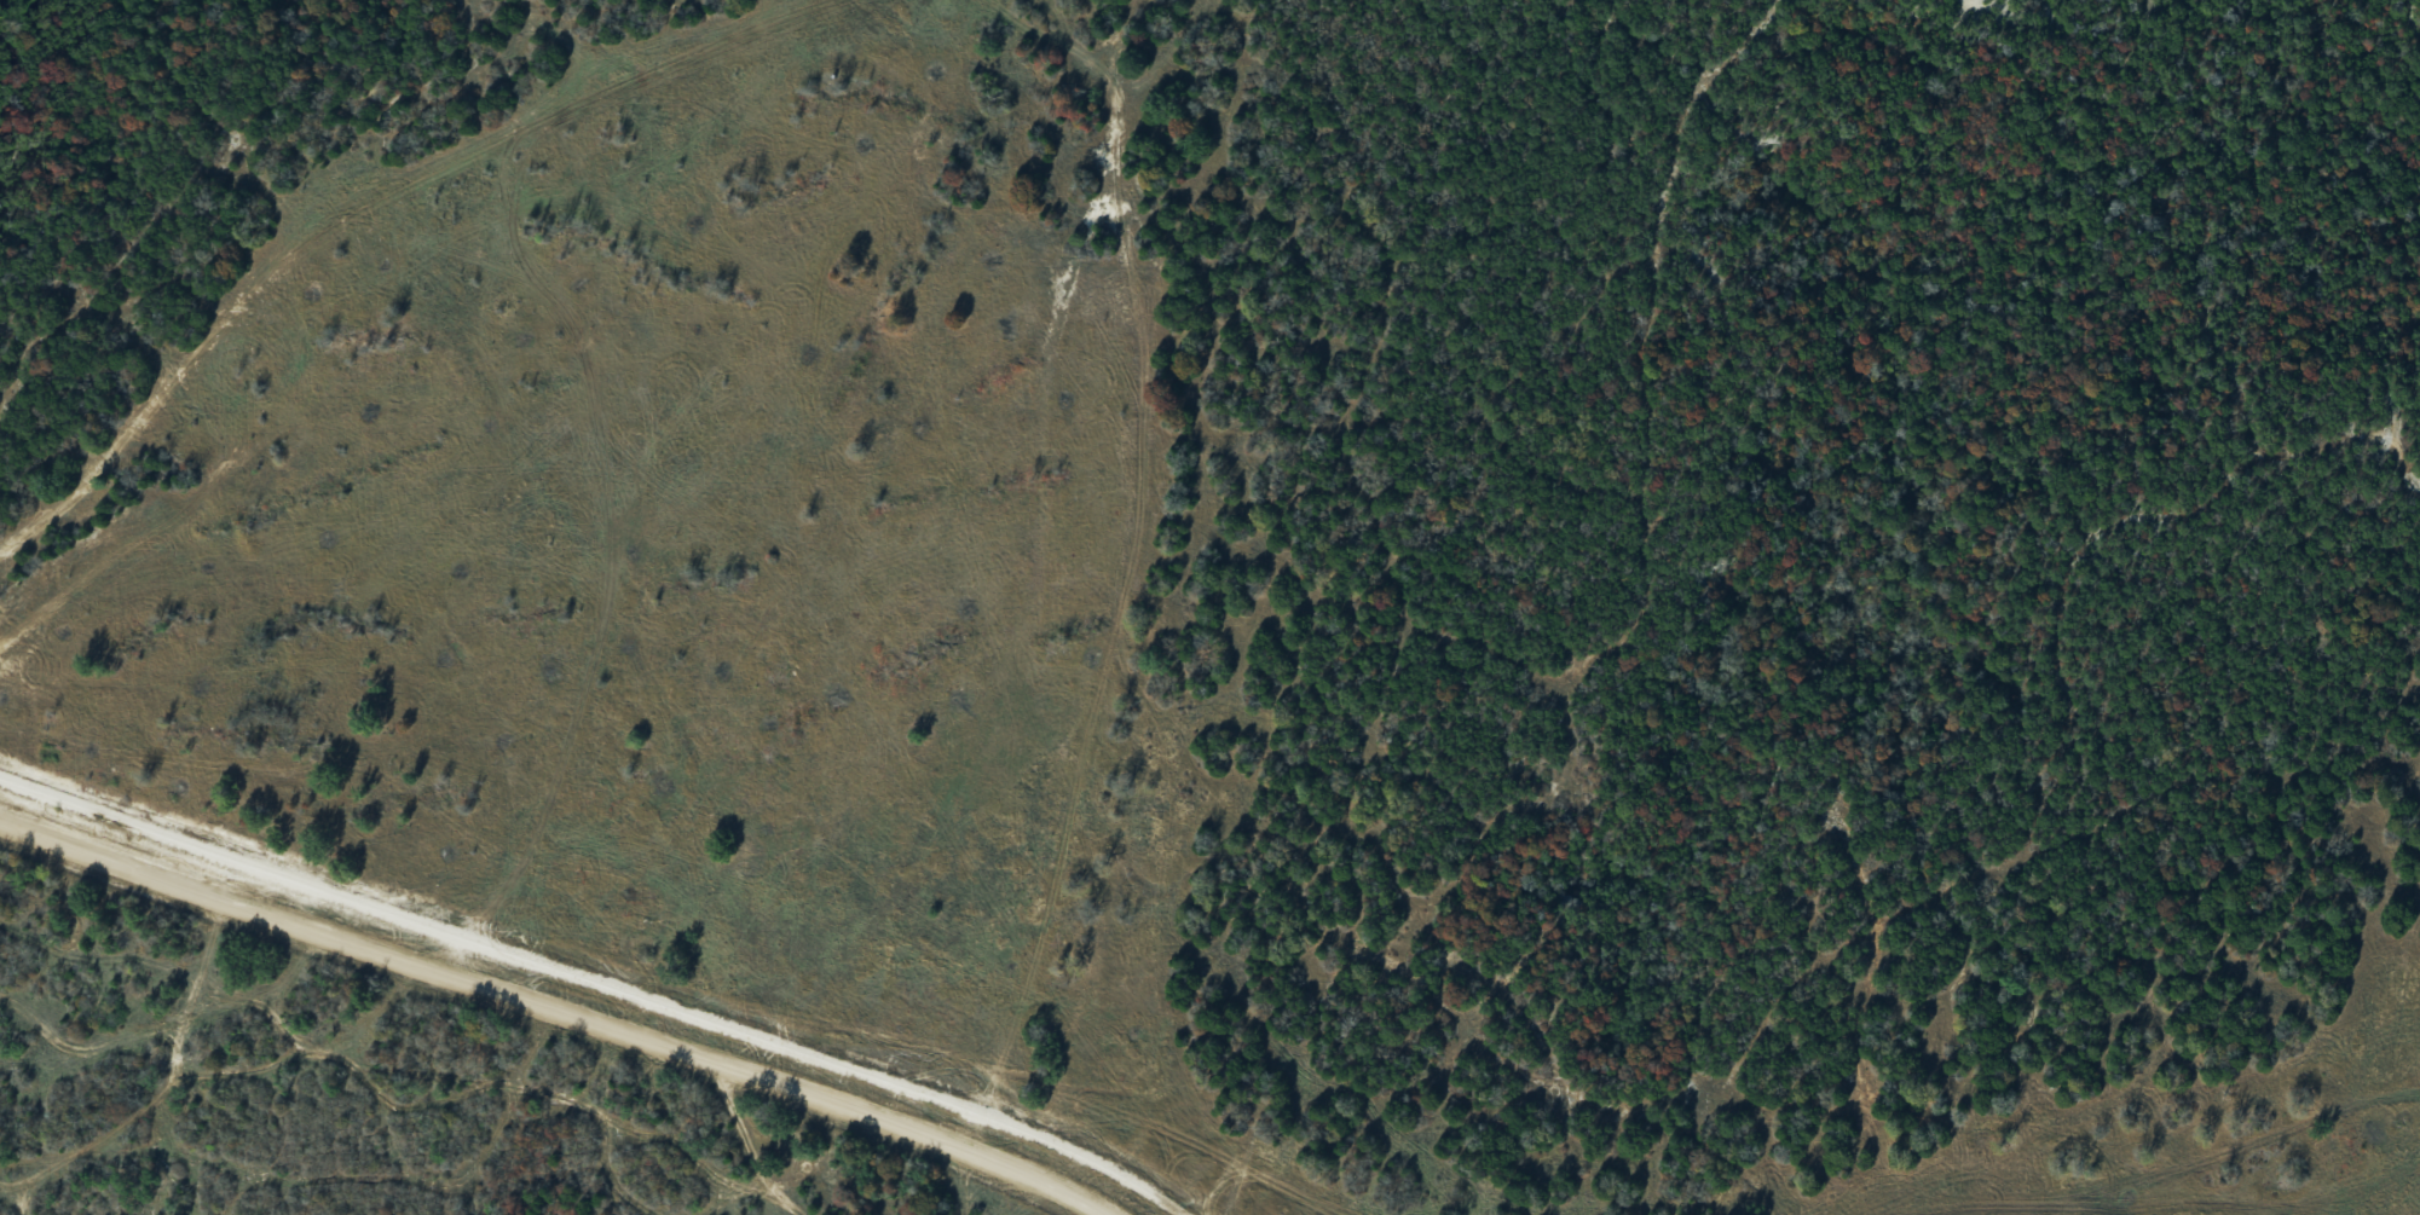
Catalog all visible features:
road: (595, 983)
road: (550, 1017)

